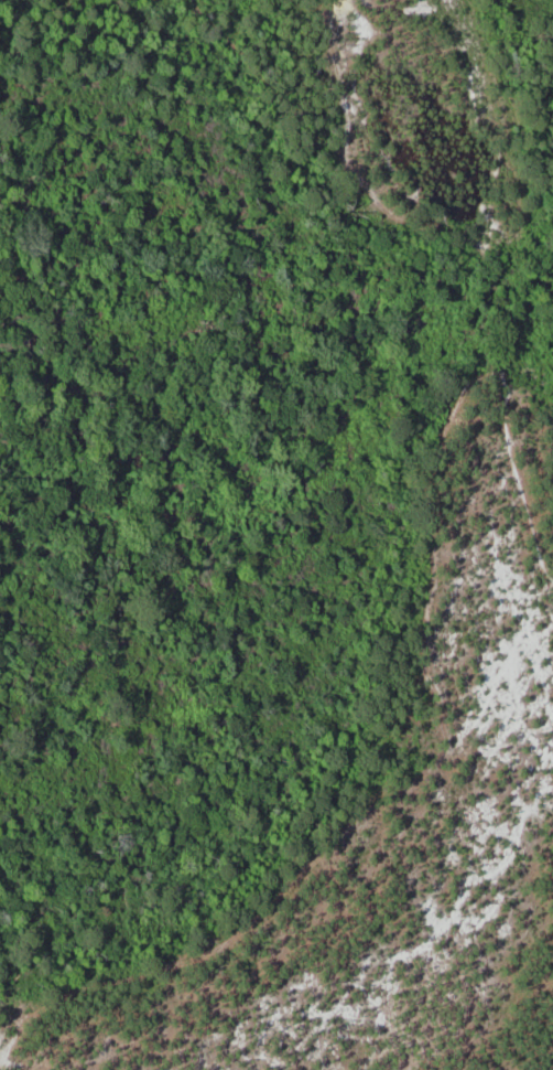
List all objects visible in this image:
park: (167, 449)

